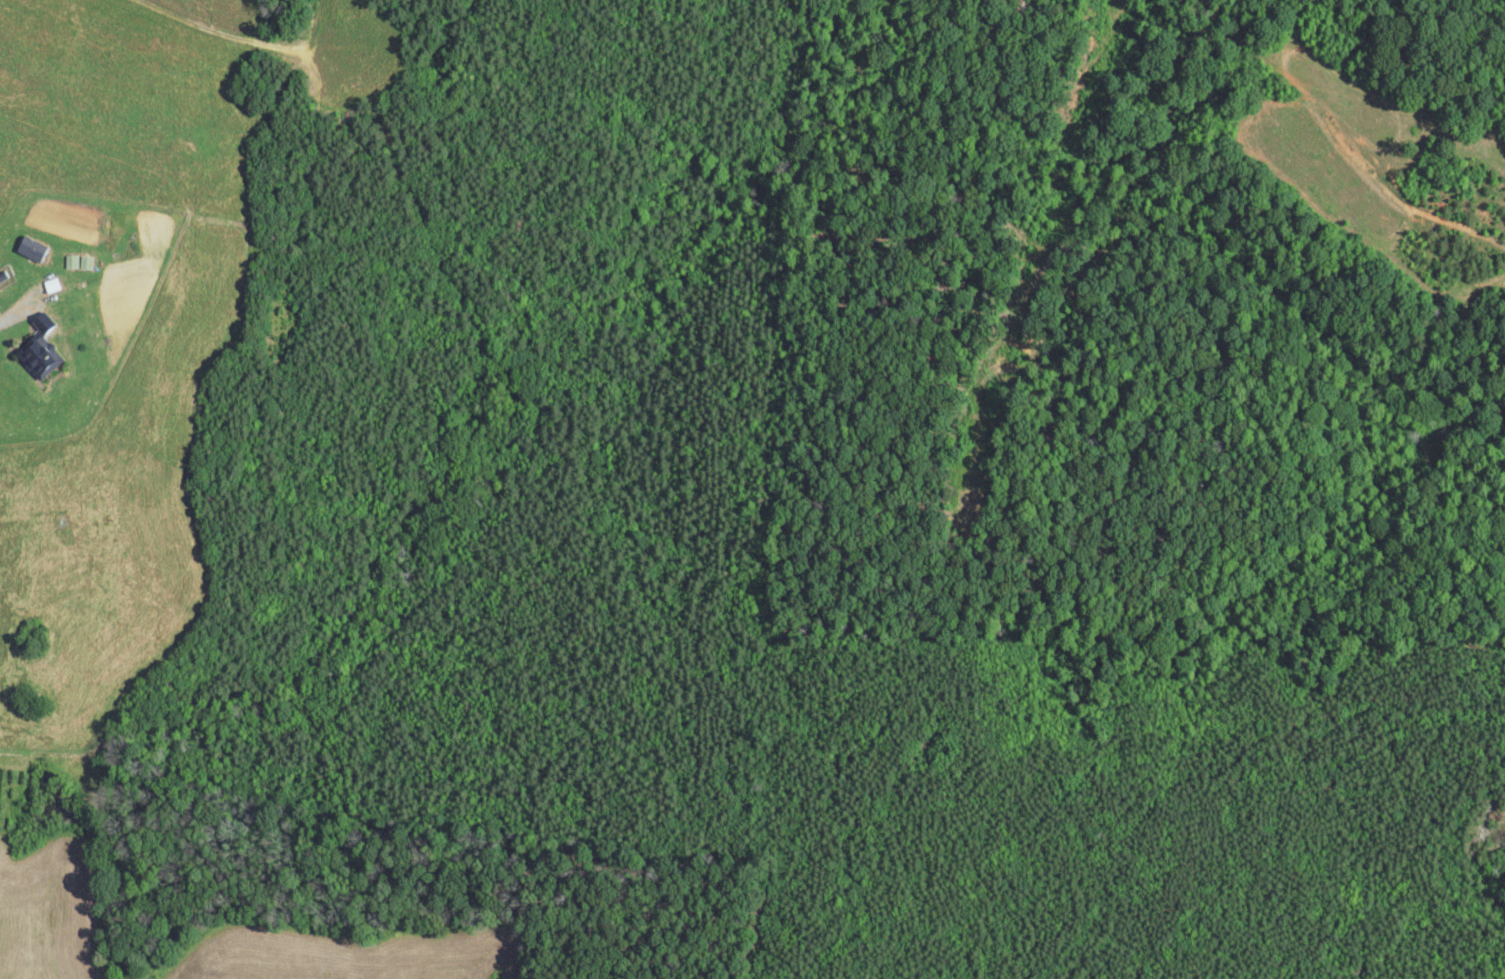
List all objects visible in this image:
building: (29, 247)
road: (11, 313)

